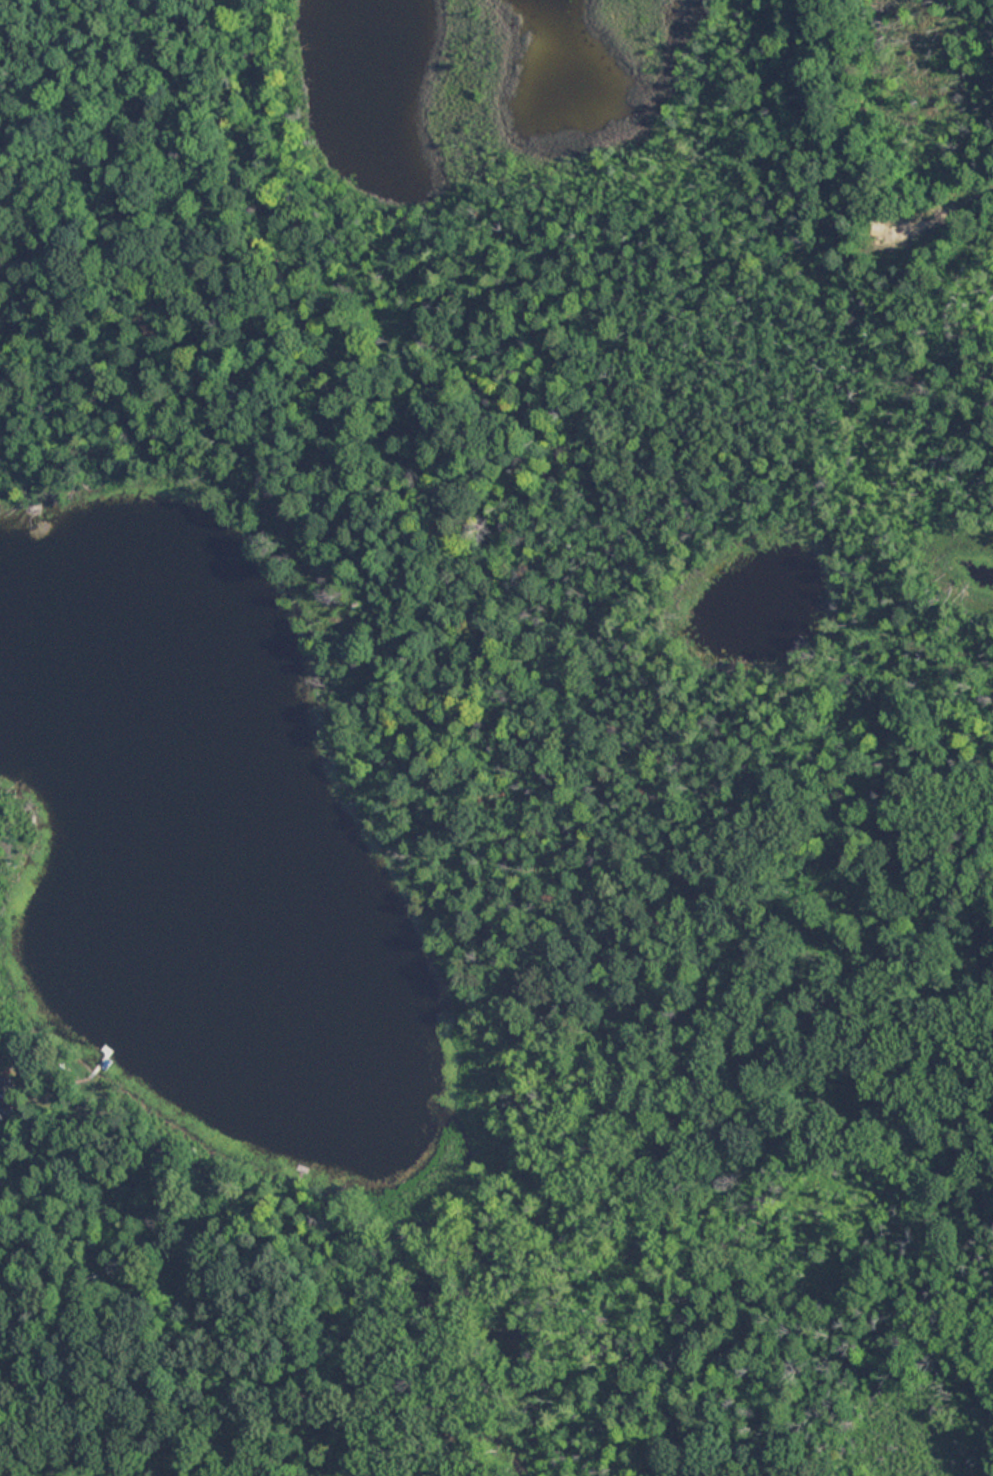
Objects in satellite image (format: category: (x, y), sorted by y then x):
building: (6, 1102)

